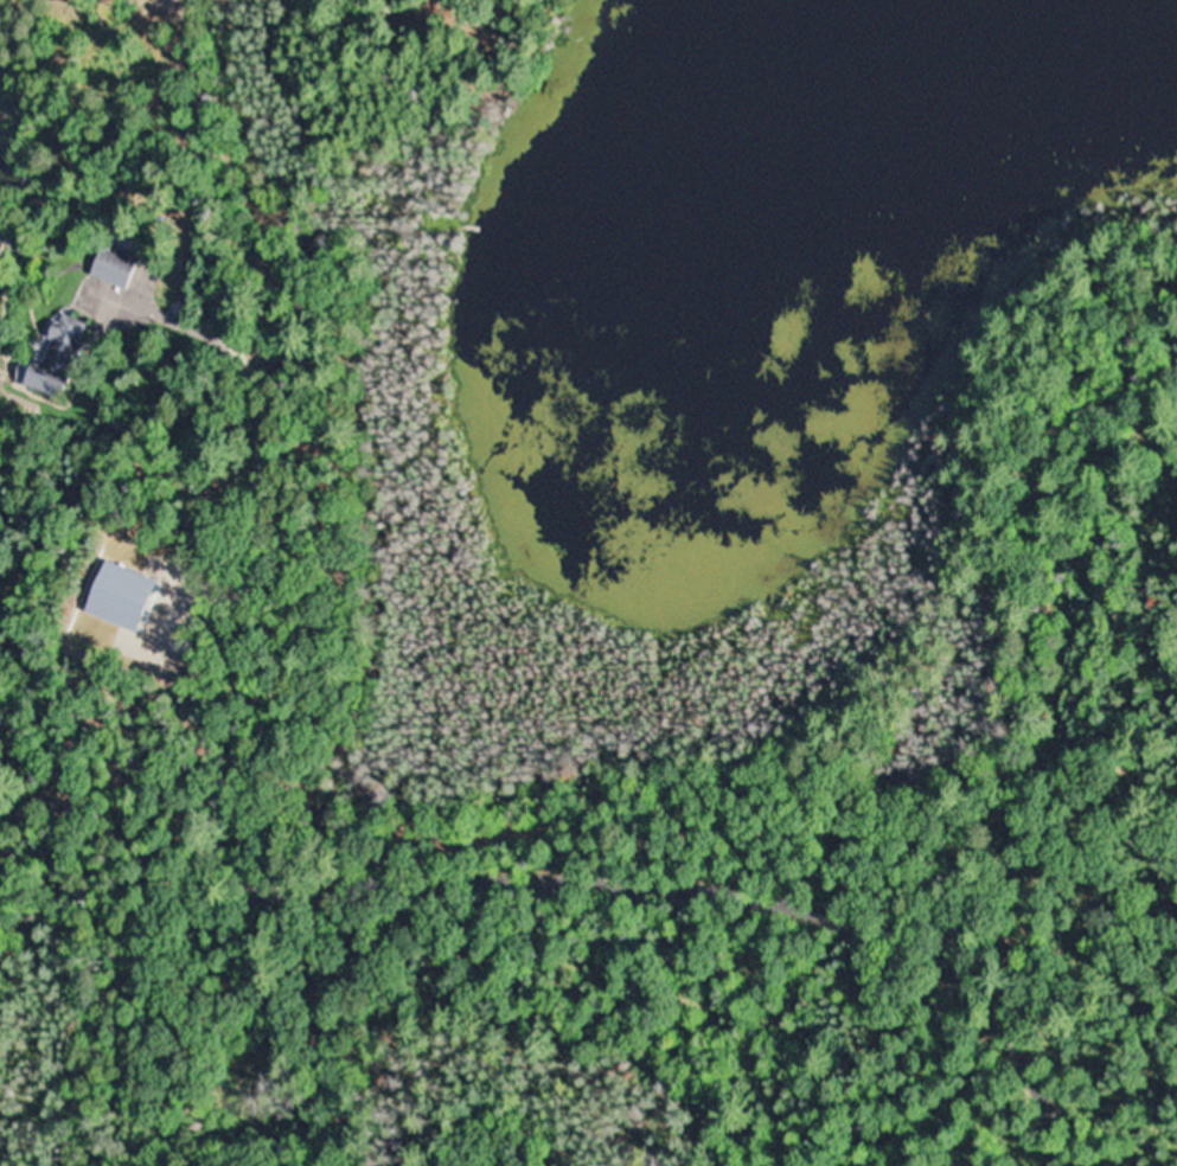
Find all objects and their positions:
building: (110, 268)
road: (98, 277)
road: (94, 332)
building: (47, 369)
road: (36, 752)
road: (587, 875)

